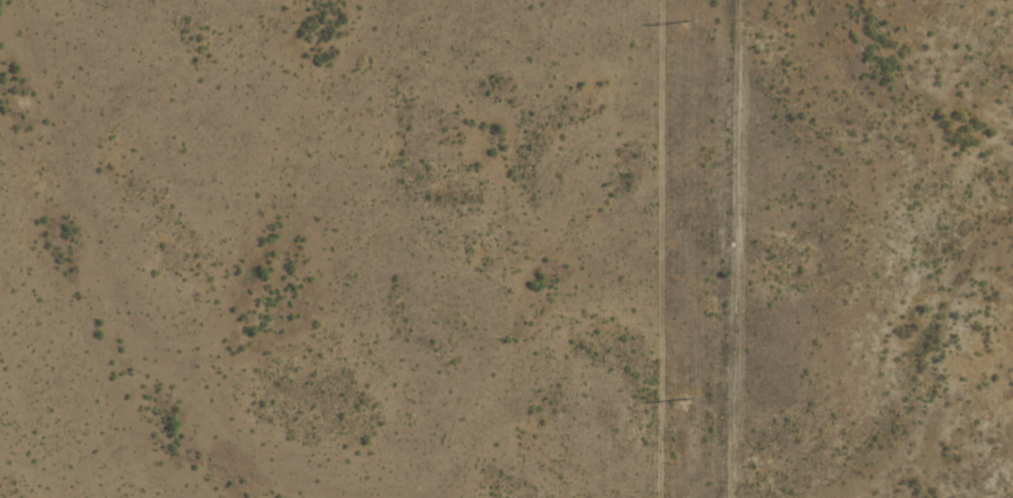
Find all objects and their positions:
power tower: (685, 20)
power tower: (687, 398)

